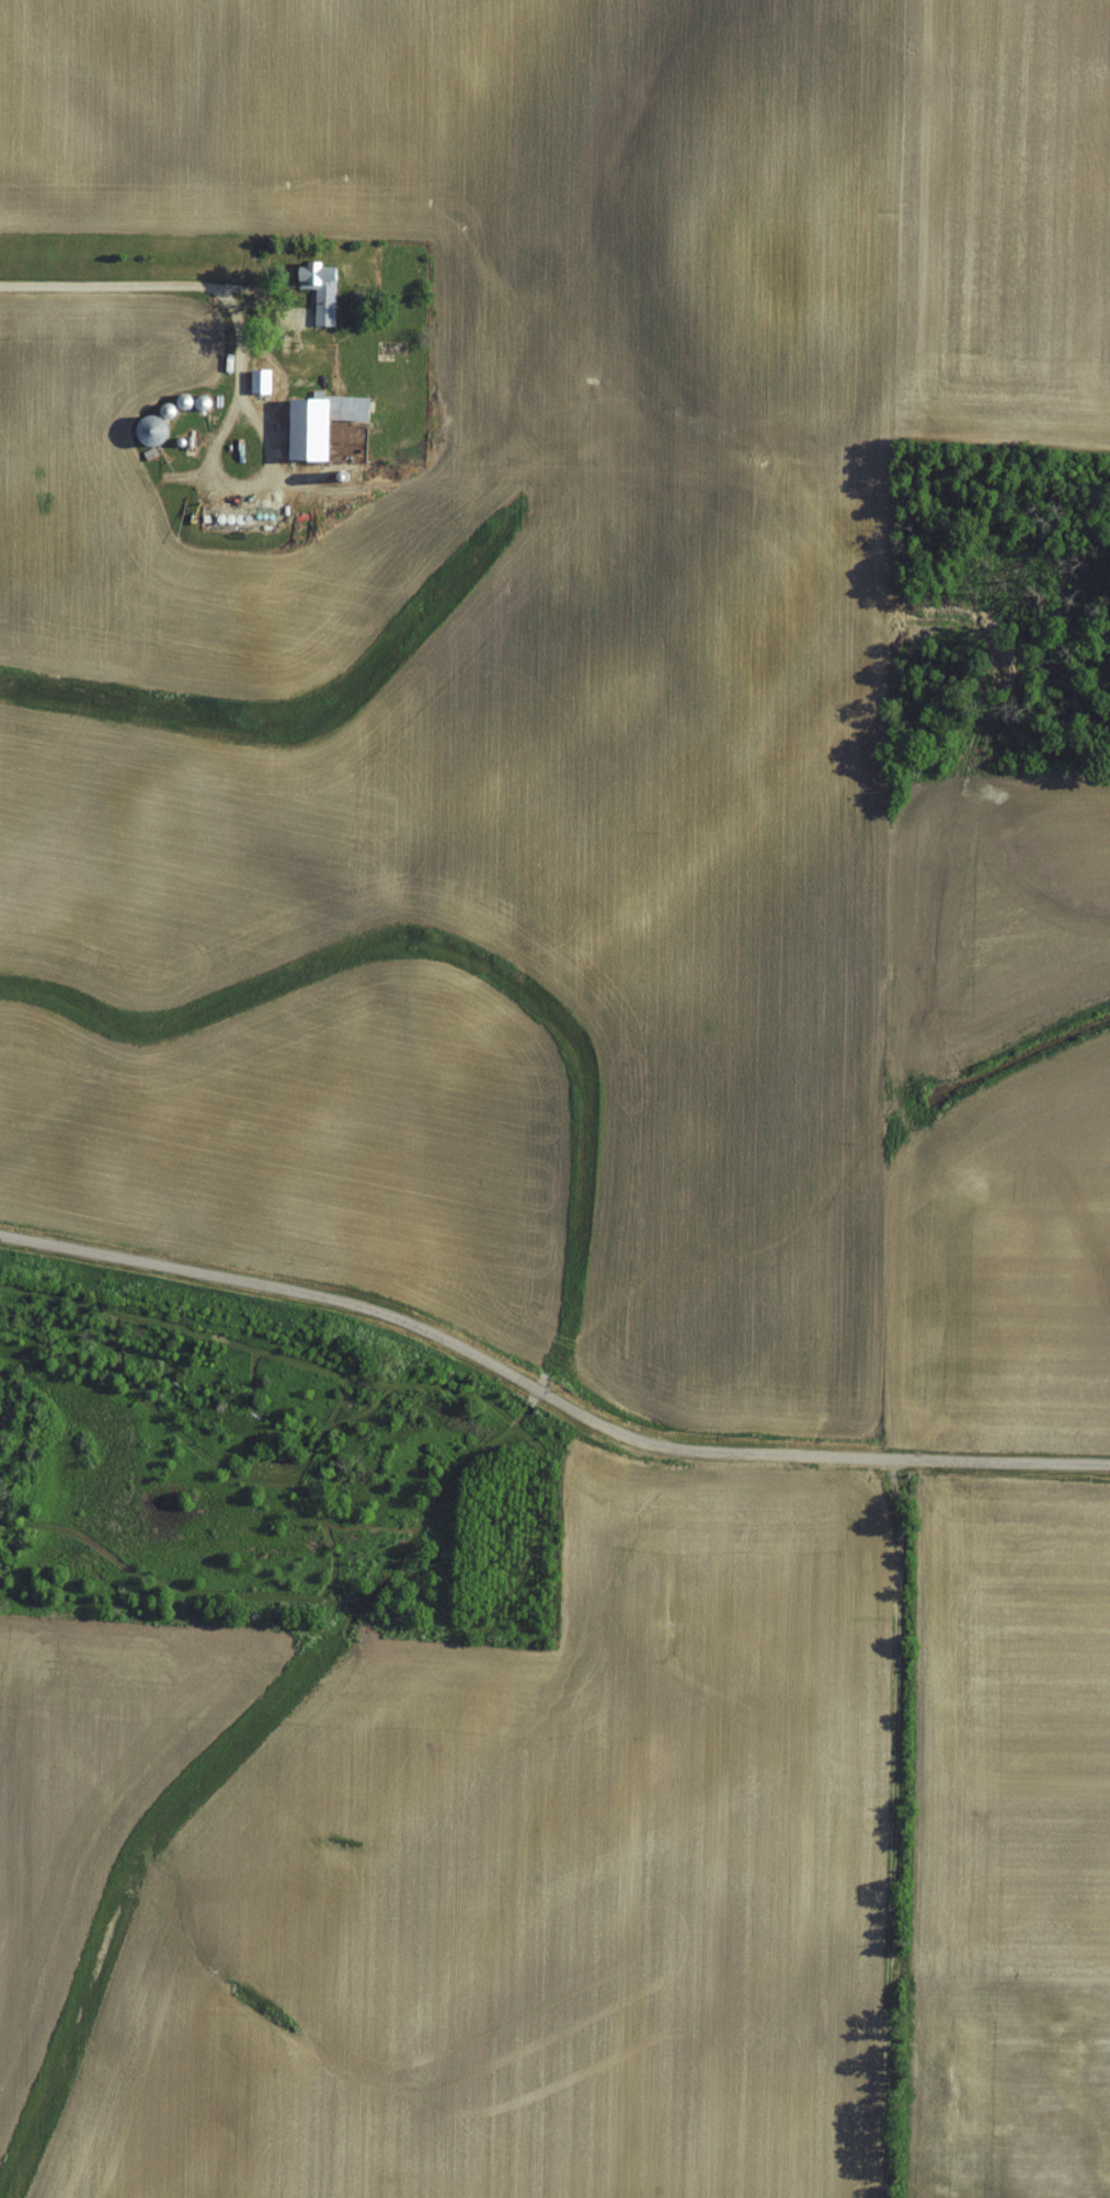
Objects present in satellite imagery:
road: (244, 291)
road: (229, 306)
road: (278, 402)
road: (547, 1398)

